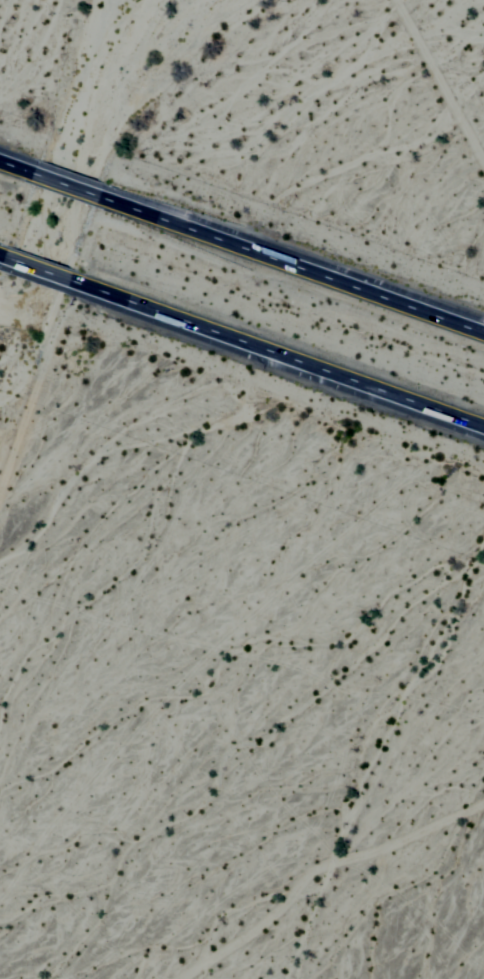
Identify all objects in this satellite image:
road: (242, 242)
road: (242, 333)

